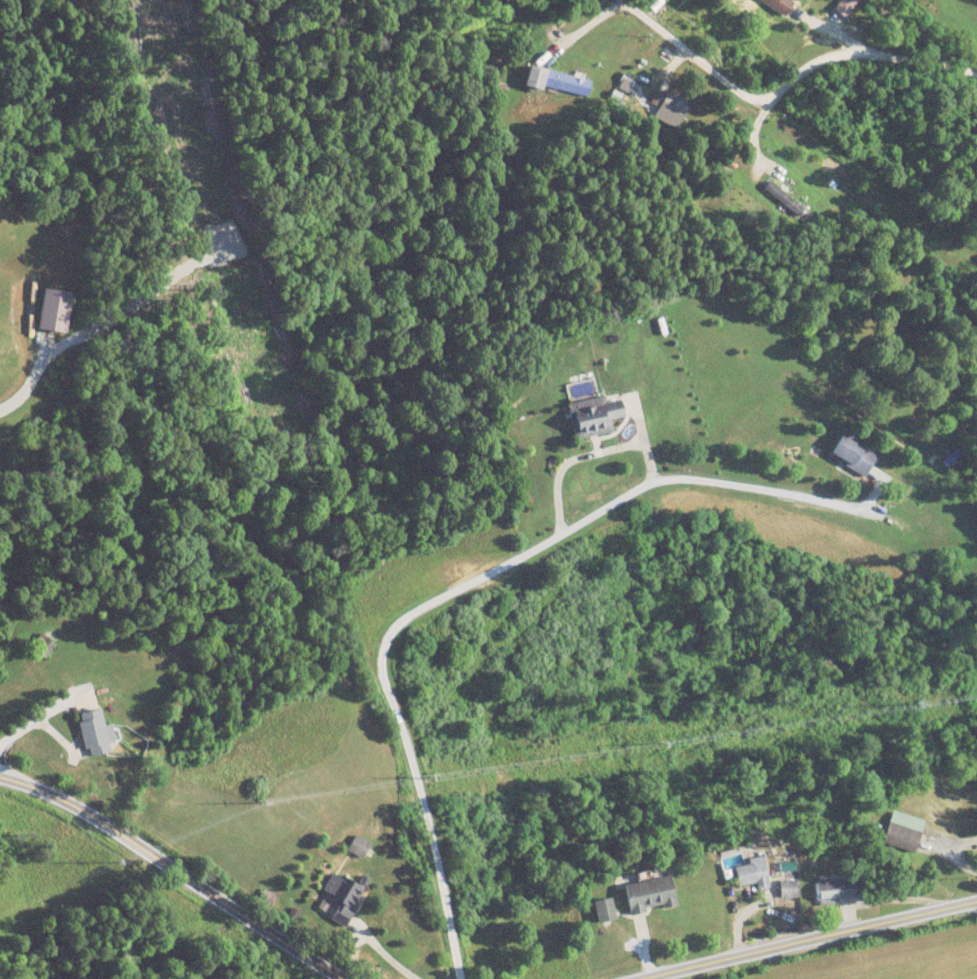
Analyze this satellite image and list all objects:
building: (653, 4)
building: (780, 7)
road: (643, 13)
road: (806, 66)
building: (56, 310)
building: (597, 415)
road: (466, 582)
building: (43, 646)
building: (98, 734)
road: (173, 874)
building: (755, 874)
building: (790, 889)
building: (840, 889)
building: (652, 896)
building: (606, 910)
road: (807, 937)

